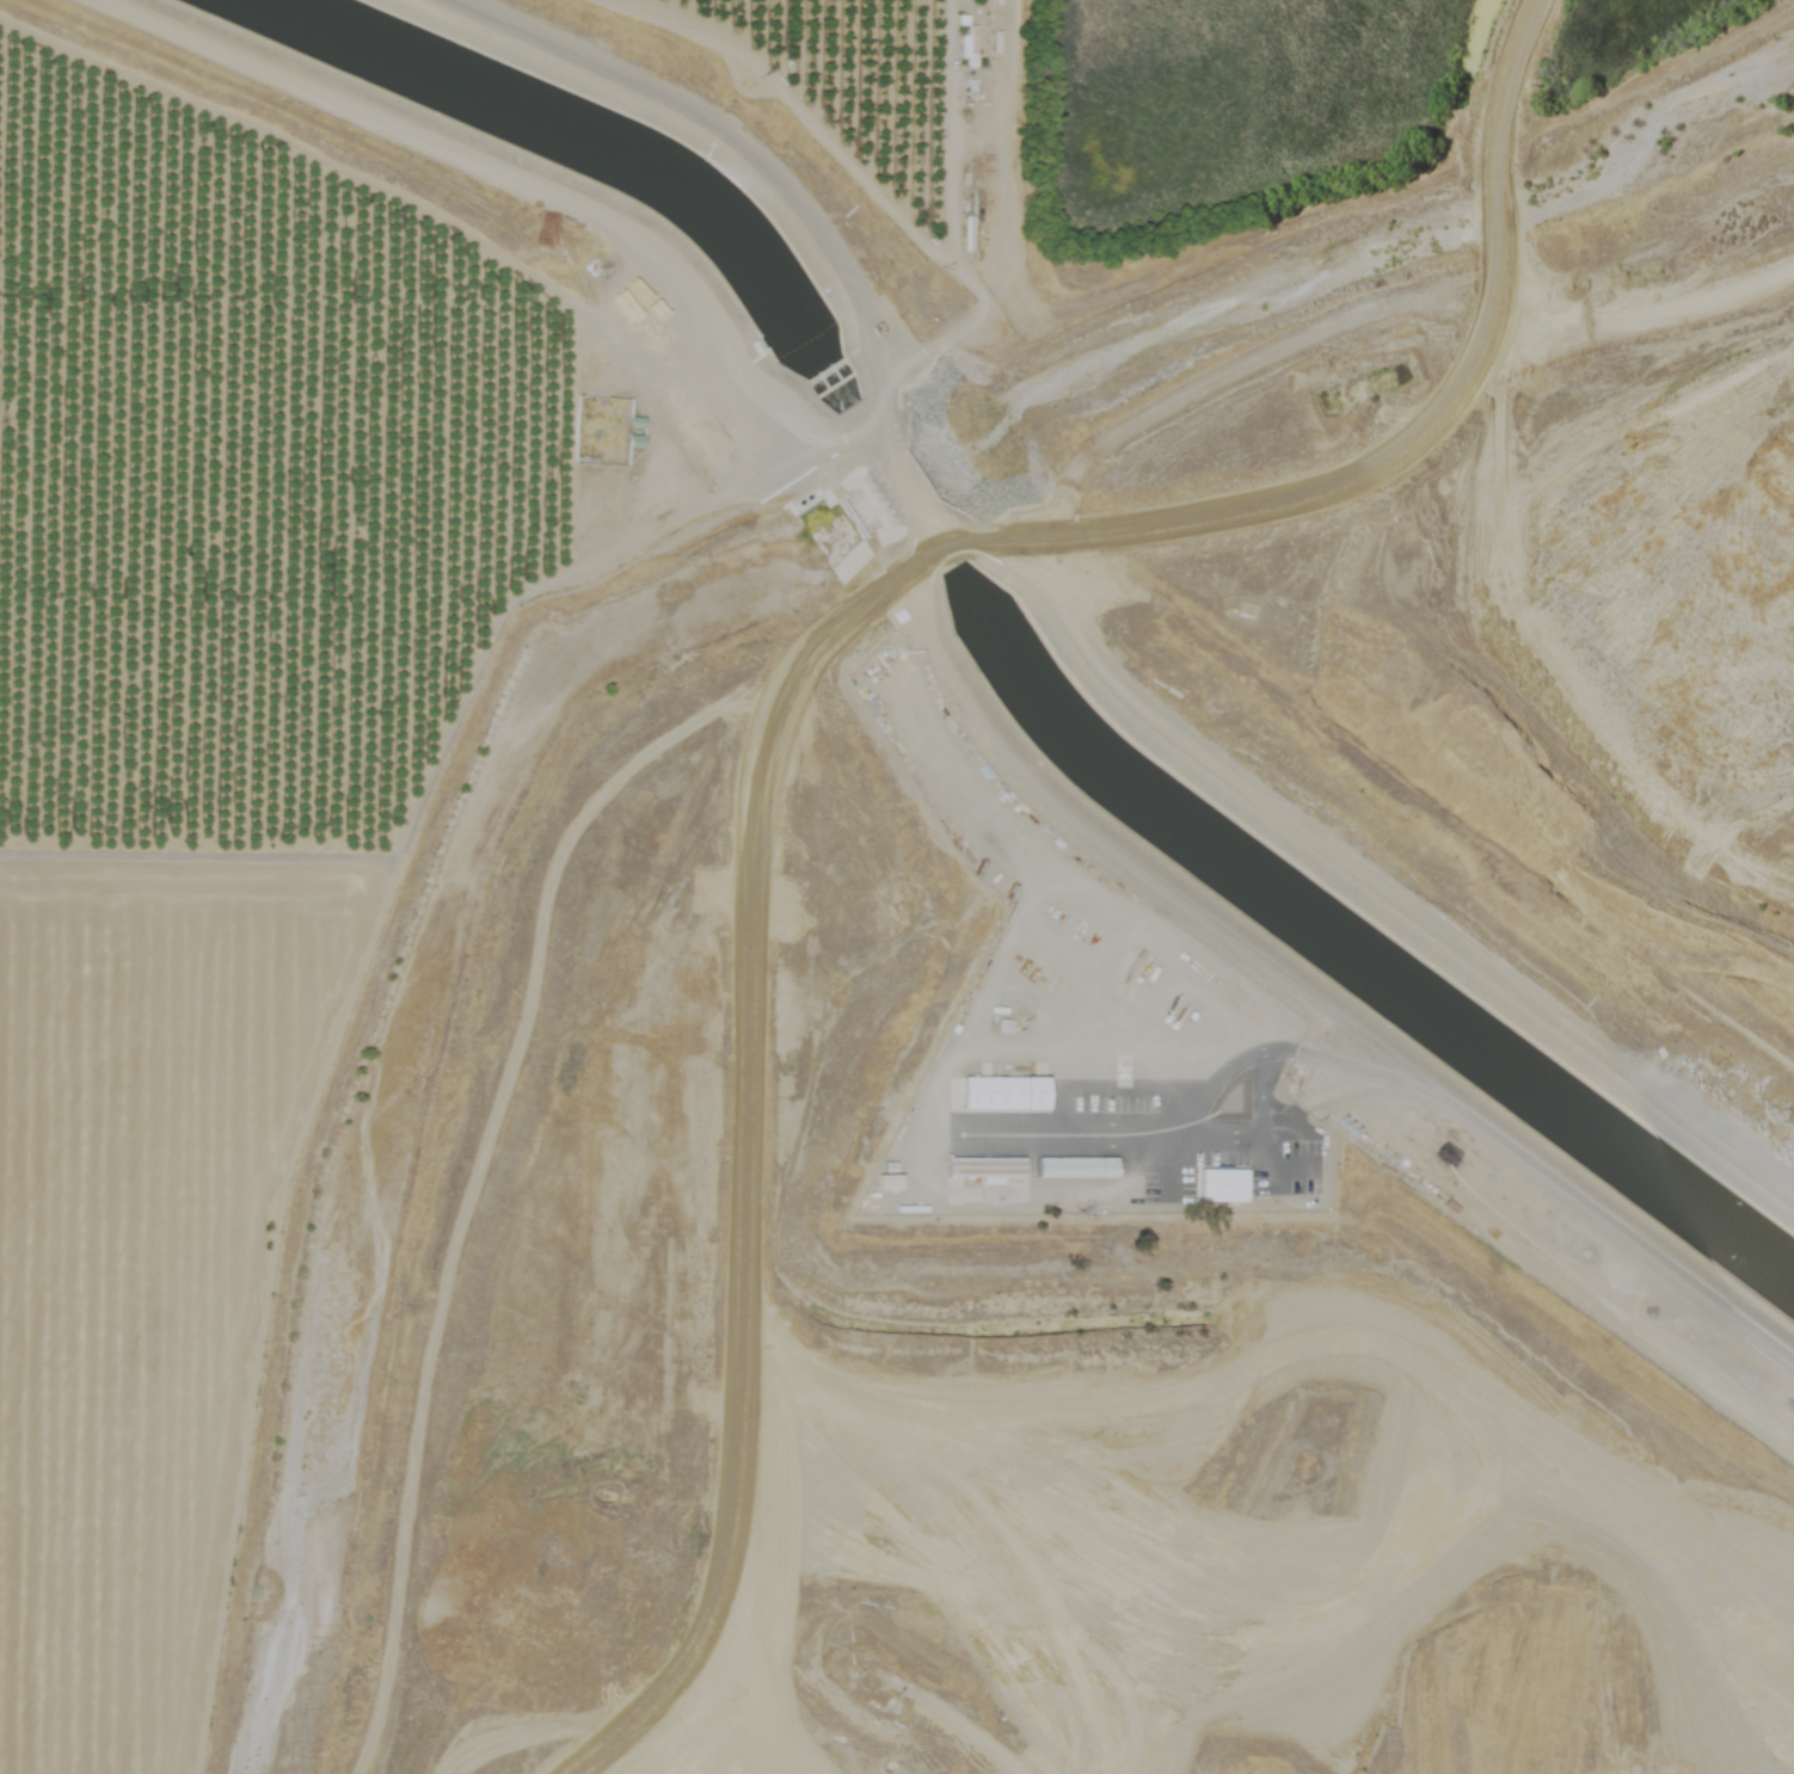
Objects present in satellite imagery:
building: (969, 47)
river: (392, 116)
road: (1000, 241)
road: (1366, 318)
road: (1444, 413)
road: (1051, 596)
crop: (320, 620)
road: (185, 860)
road: (1305, 987)
building: (995, 1092)
building: (978, 1166)
building: (1070, 1166)
building: (1216, 1183)

